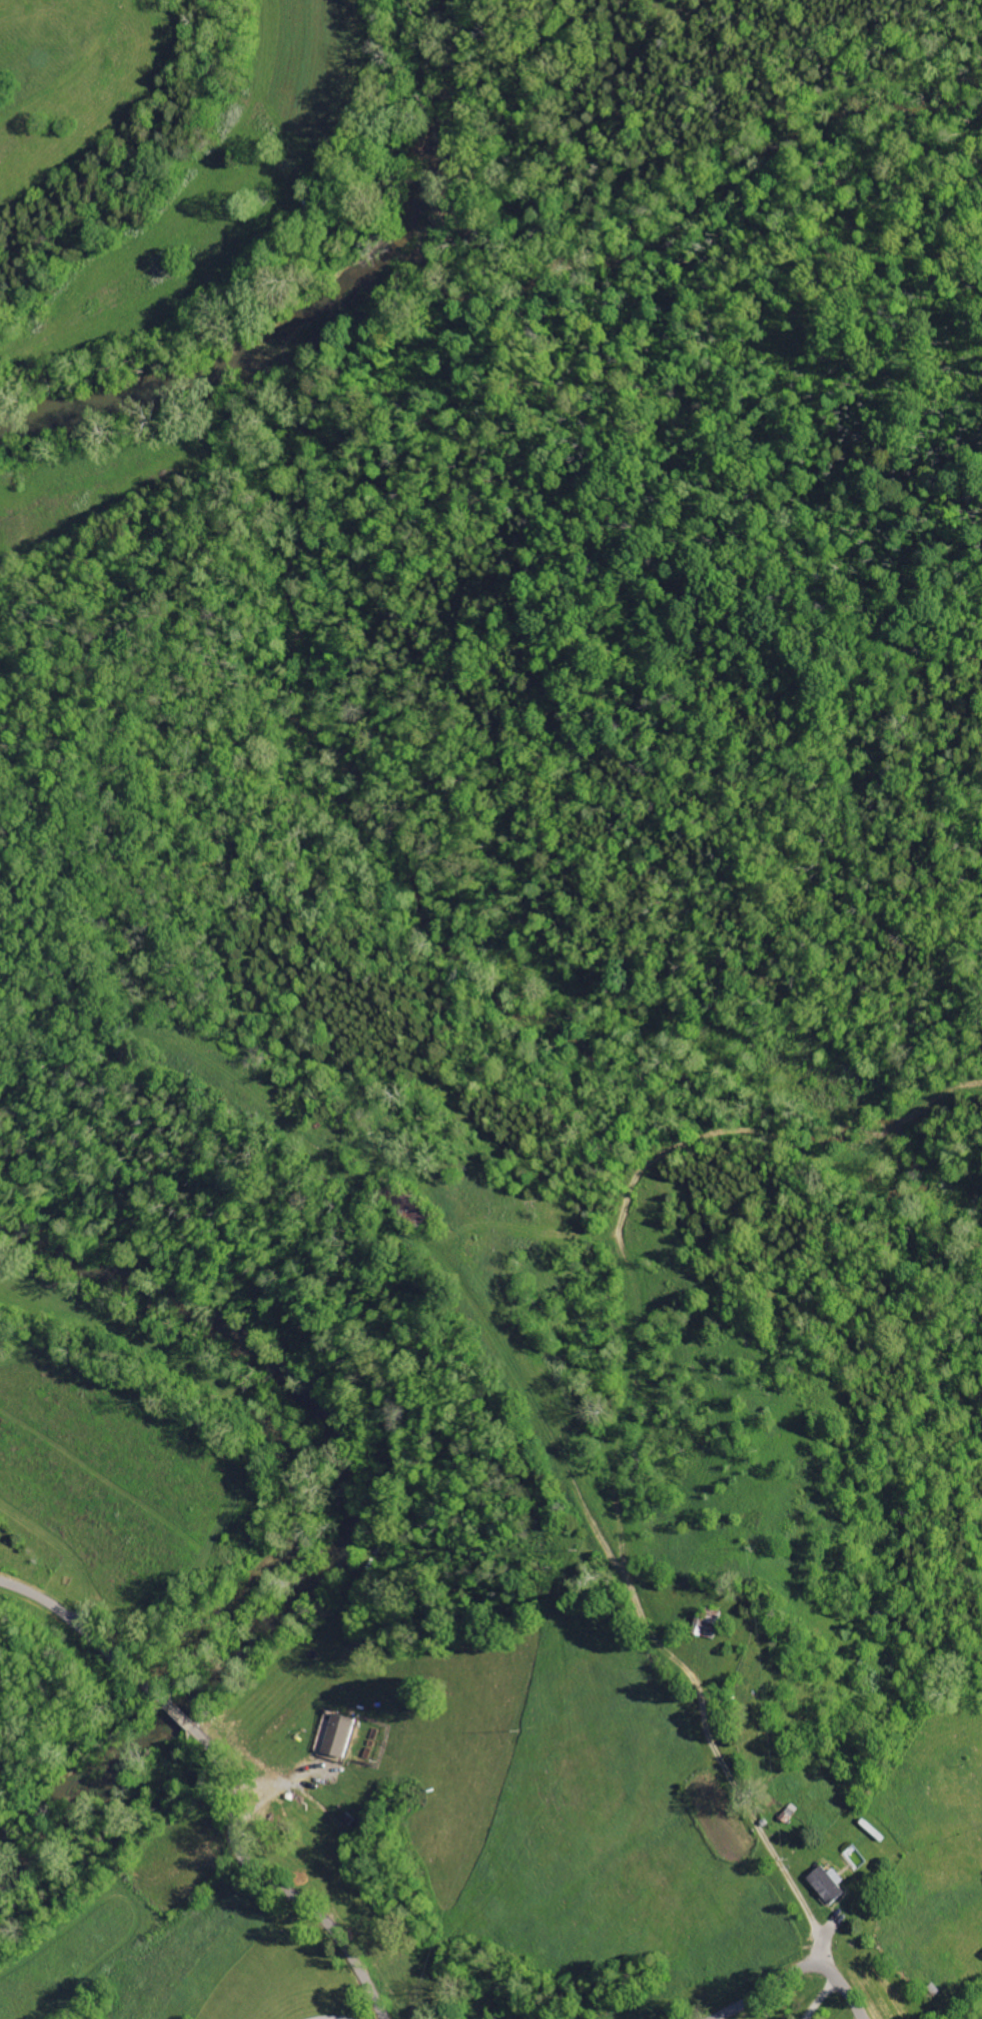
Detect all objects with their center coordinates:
road: (100, 1641)
building: (335, 1735)
road: (283, 1784)
road: (746, 1807)
building: (854, 1857)
road: (268, 1880)
building: (826, 1884)
road: (795, 1971)

